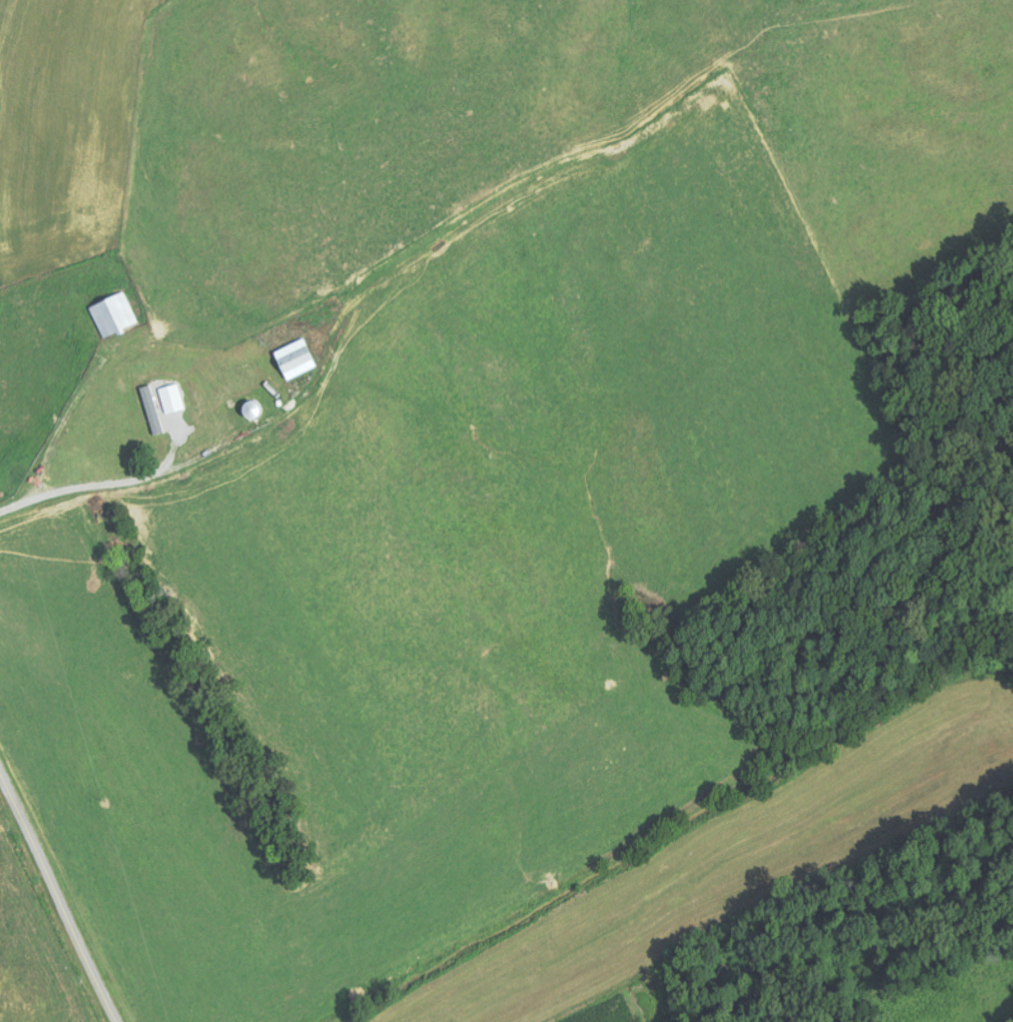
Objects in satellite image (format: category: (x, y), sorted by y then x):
building: (114, 314)
building: (293, 364)
building: (172, 399)
building: (155, 410)
road: (59, 894)

